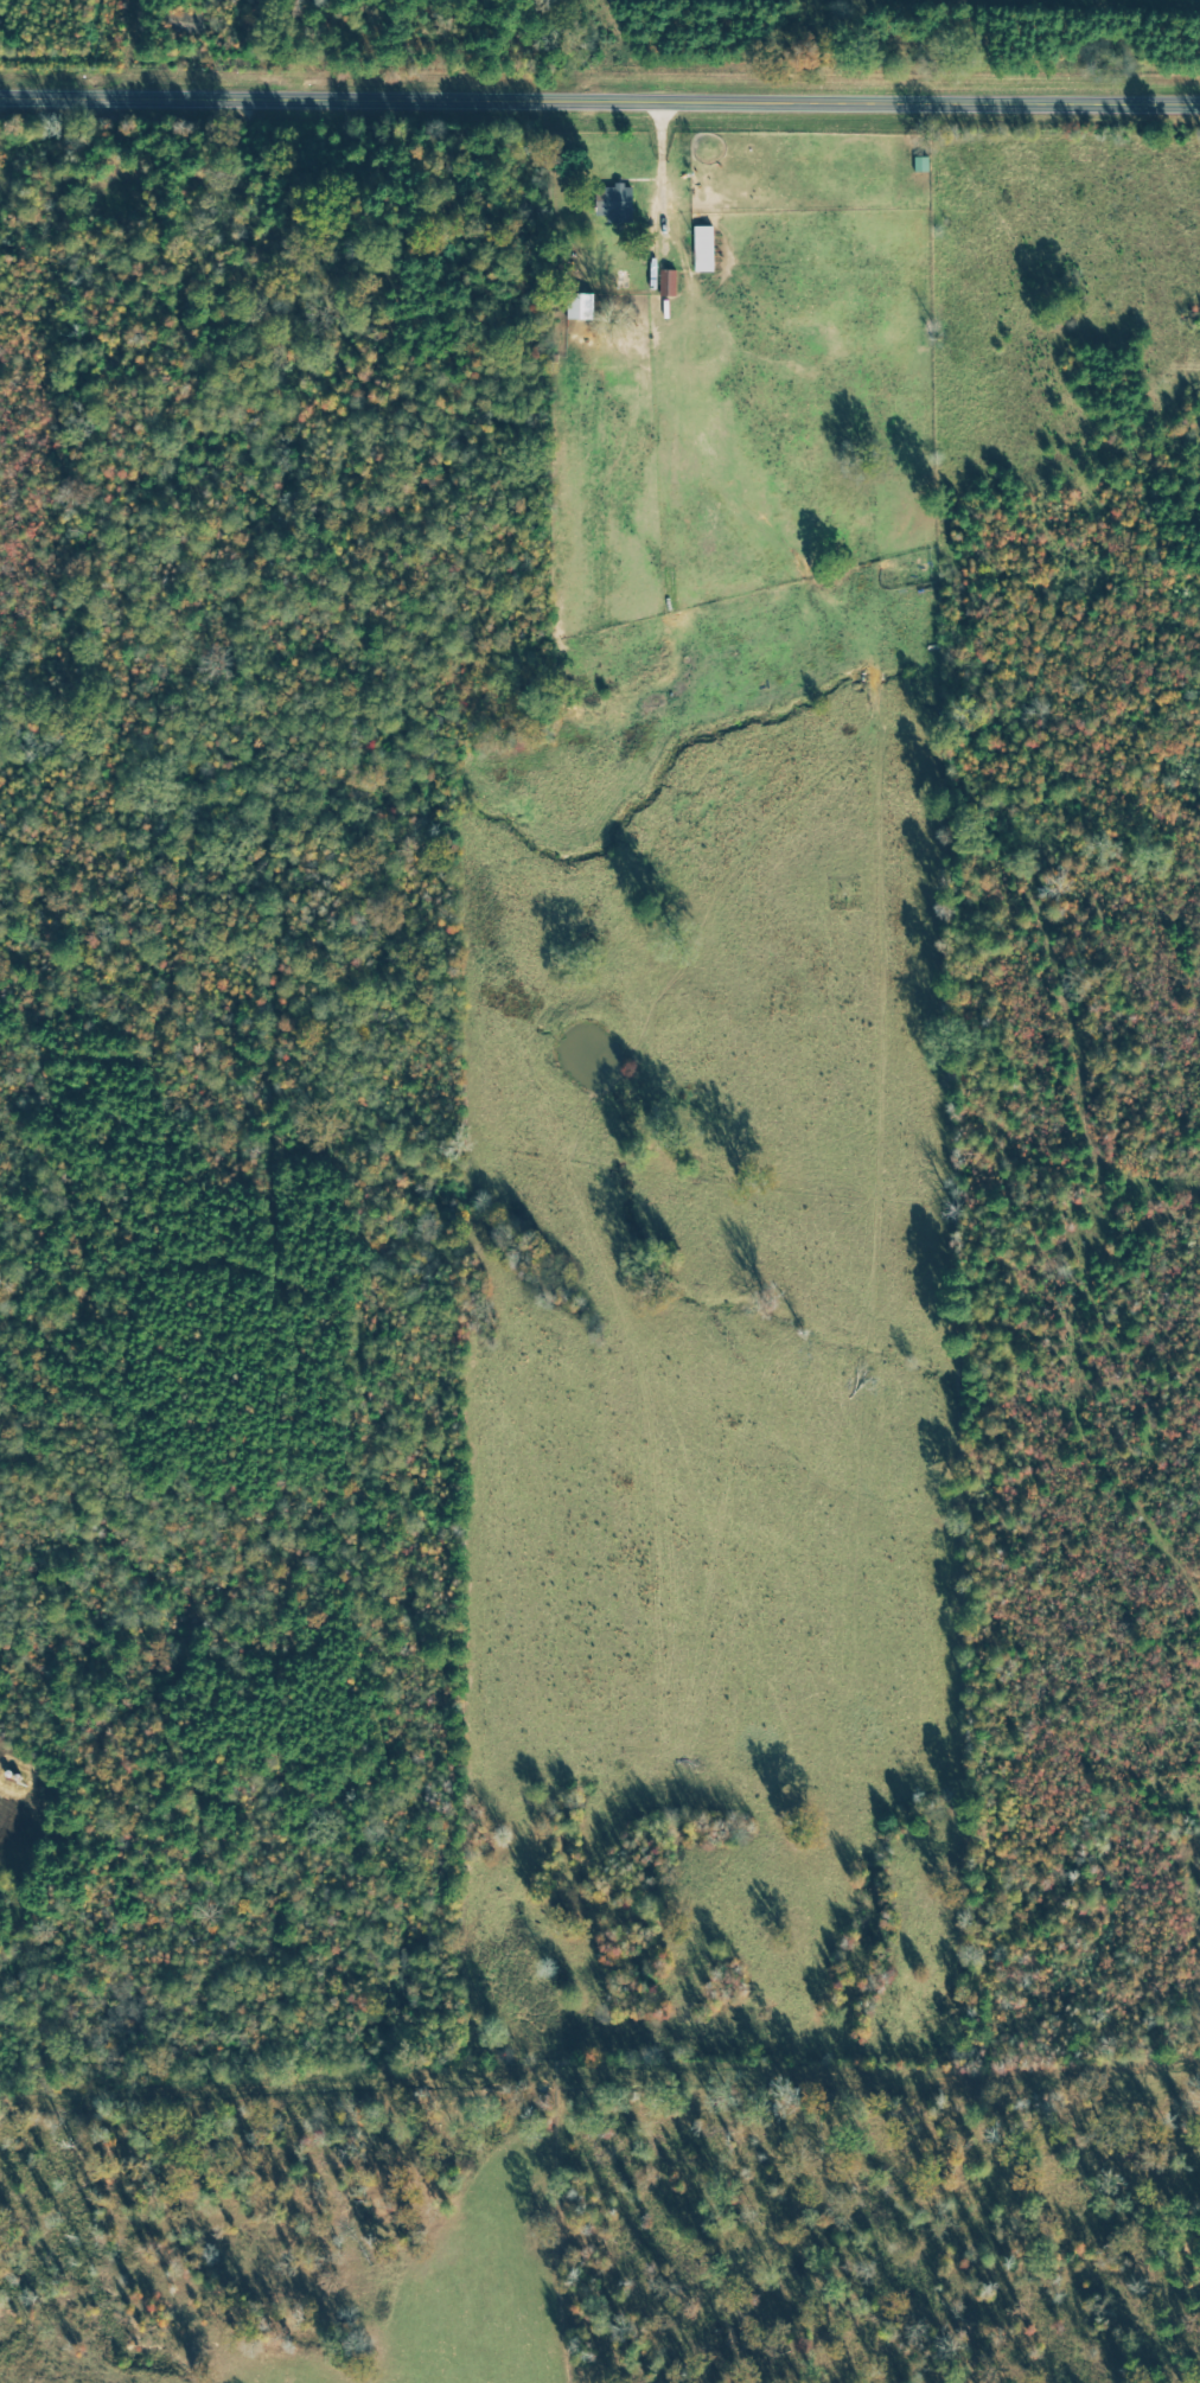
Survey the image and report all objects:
road: (599, 102)
building: (613, 204)
building: (702, 249)
building: (668, 283)
building: (577, 307)

